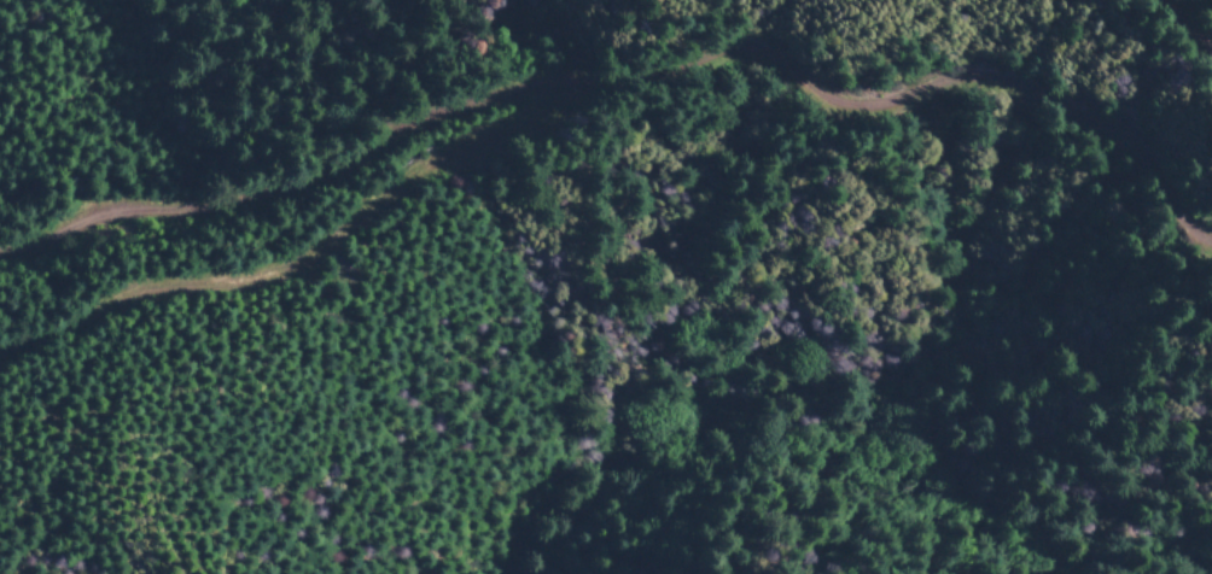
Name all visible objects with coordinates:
road: (594, 25)

